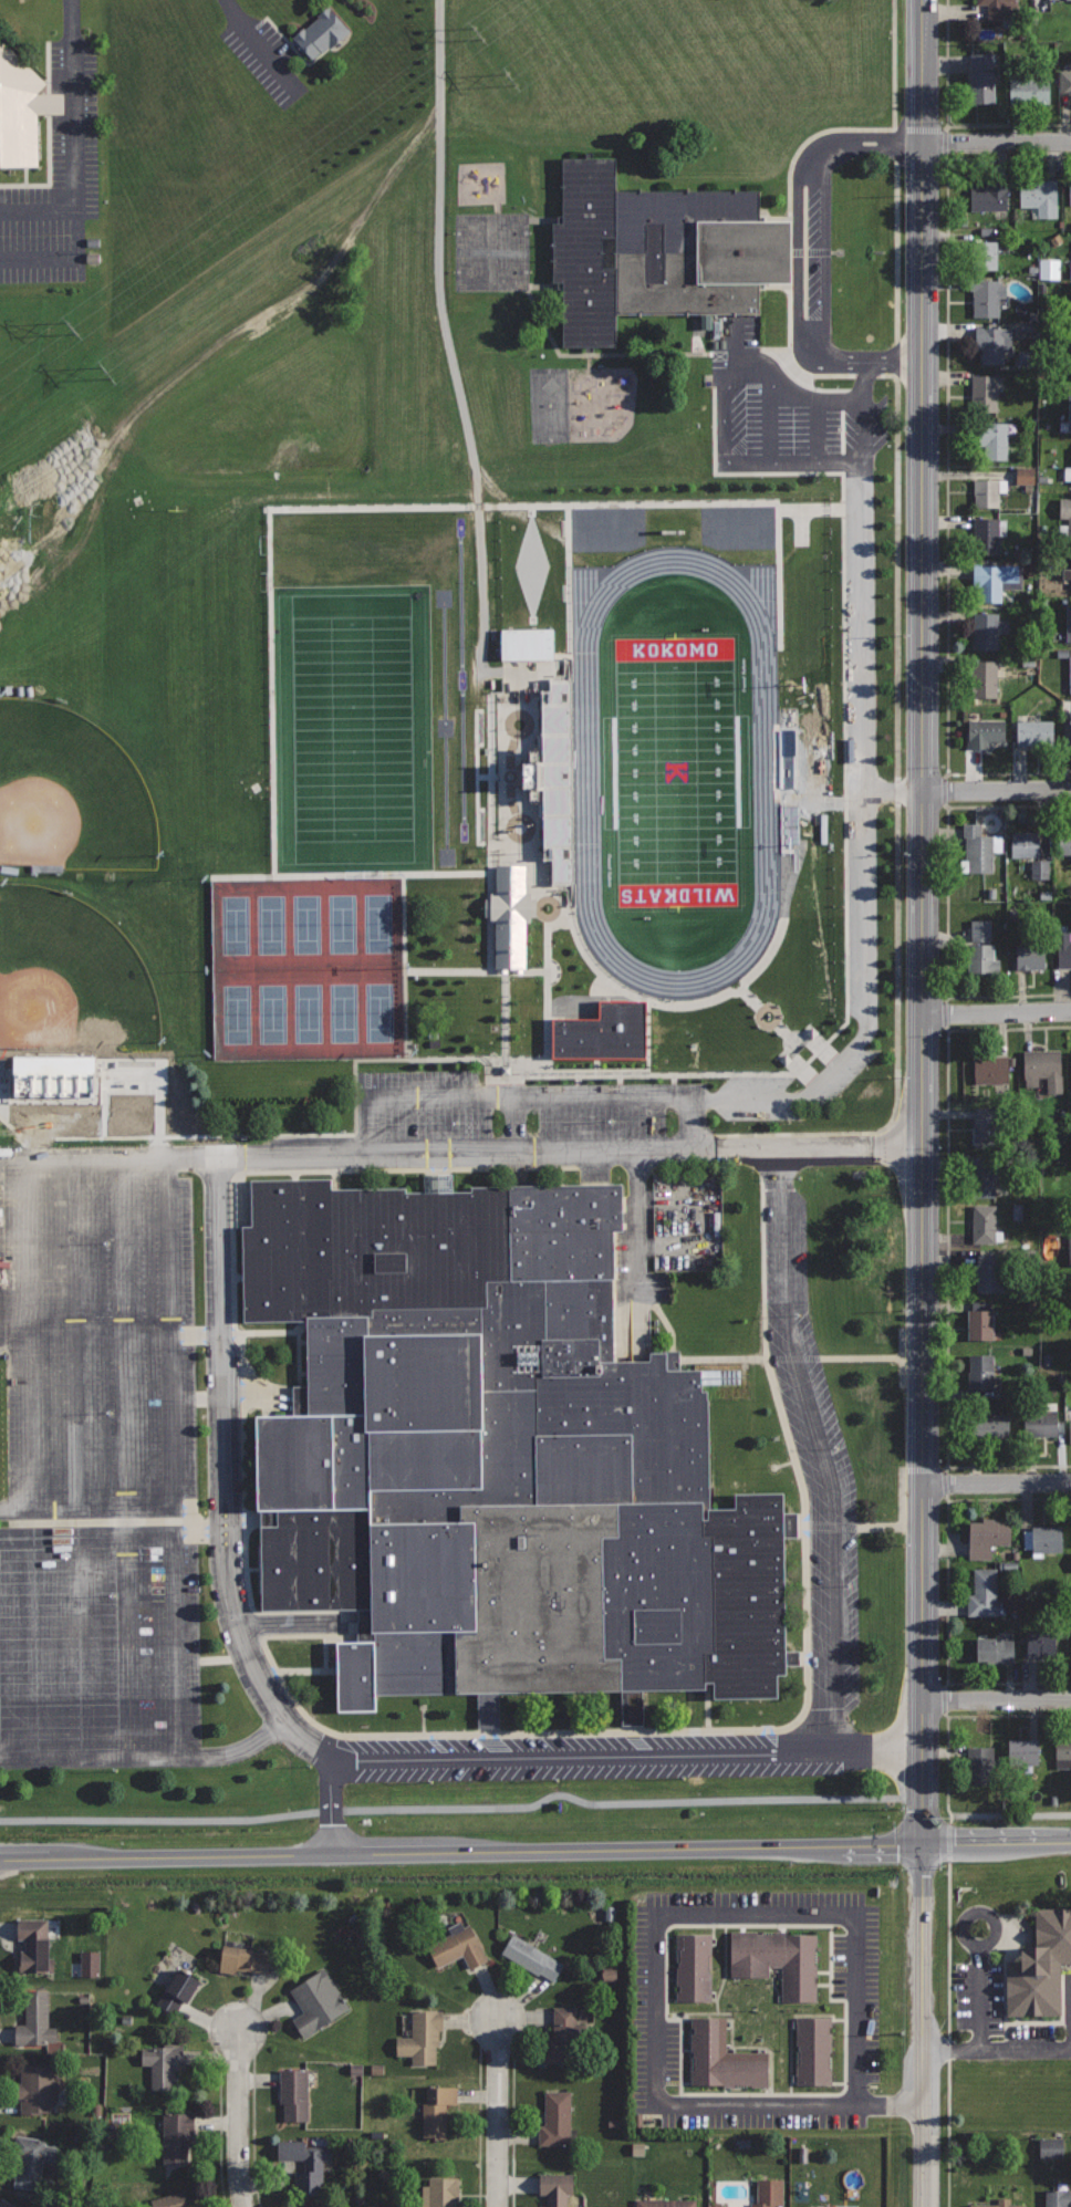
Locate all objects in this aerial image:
building: (1044, 0)
building: (1001, 9)
building: (321, 31)
power tower: (478, 33)
road: (259, 50)
parking lot: (262, 53)
road: (893, 65)
building: (981, 77)
power tower: (511, 80)
building: (1064, 81)
building: (1028, 89)
road: (74, 106)
building: (22, 110)
road: (947, 123)
road: (997, 143)
road: (894, 145)
parking lot: (58, 174)
building: (1070, 190)
building: (990, 196)
building: (1039, 196)
road: (39, 212)
road: (789, 237)
building: (653, 251)
road: (894, 251)
building: (981, 254)
road: (812, 256)
road: (62, 259)
building: (1048, 269)
building: (1070, 271)
building: (987, 296)
building: (1069, 312)
building: (701, 321)
power tower: (71, 329)
road: (235, 331)
building: (994, 342)
road: (553, 344)
parking lot: (804, 345)
road: (449, 347)
road: (589, 357)
road: (895, 358)
building: (1070, 362)
power tower: (106, 374)
road: (865, 375)
building: (985, 393)
road: (725, 410)
road: (864, 413)
building: (1065, 419)
building: (996, 439)
road: (947, 467)
building: (1070, 467)
building: (1022, 476)
building: (989, 495)
road: (413, 506)
road: (809, 509)
building: (1067, 509)
building: (988, 532)
road: (895, 568)
road: (39, 571)
road: (924, 572)
building: (1065, 575)
building: (996, 580)
building: (1069, 622)
park: (198, 624)
building: (989, 629)
building: (524, 643)
road: (526, 670)
building: (1070, 670)
building: (986, 677)
park: (352, 728)
building: (986, 731)
building: (1034, 731)
building: (1070, 731)
road: (489, 769)
track: (588, 772)
park: (676, 773)
building: (523, 778)
building: (555, 780)
road: (997, 789)
road: (895, 790)
parking lot: (876, 791)
road: (895, 791)
park: (70, 795)
road: (843, 821)
building: (1067, 841)
building: (1025, 844)
building: (978, 847)
road: (867, 850)
road: (489, 861)
building: (1038, 870)
road: (946, 902)
building: (507, 915)
park: (342, 922)
park: (381, 922)
park: (271, 923)
park: (306, 923)
park: (232, 924)
building: (1064, 948)
building: (1031, 956)
building: (981, 958)
road: (526, 972)
park: (70, 978)
road: (698, 1002)
road: (582, 1008)
park: (344, 1011)
park: (383, 1011)
park: (272, 1012)
park: (308, 1012)
park: (235, 1013)
road: (997, 1013)
road: (770, 1018)
building: (599, 1033)
road: (796, 1033)
building: (801, 1044)
road: (821, 1048)
road: (895, 1050)
road: (392, 1059)
building: (1043, 1068)
road: (801, 1069)
building: (991, 1069)
building: (1070, 1070)
road: (627, 1071)
building: (52, 1074)
road: (620, 1082)
road: (673, 1082)
road: (578, 1083)
road: (499, 1092)
parking lot: (524, 1110)
road: (694, 1120)
building: (986, 1126)
road: (18, 1136)
road: (570, 1152)
road: (355, 1153)
road: (107, 1157)
road: (266, 1172)
building: (987, 1174)
building: (434, 1183)
road: (947, 1186)
road: (705, 1221)
building: (984, 1224)
parking lot: (659, 1246)
building: (1069, 1246)
road: (638, 1253)
building: (1067, 1256)
building: (990, 1272)
building: (980, 1324)
road: (177, 1332)
road: (34, 1333)
road: (82, 1333)
road: (125, 1333)
parking lot: (98, 1334)
road: (199, 1335)
road: (91, 1336)
road: (2, 1349)
road: (803, 1357)
building: (980, 1371)
road: (199, 1398)
building: (1041, 1419)
building: (991, 1425)
building: (1070, 1430)
road: (820, 1448)
building: (495, 1457)
road: (1009, 1466)
flagpole: (773, 1468)
road: (947, 1468)
road: (997, 1482)
road: (242, 1495)
road: (89, 1509)
parking lot: (831, 1513)
road: (894, 1528)
building: (1069, 1534)
building: (988, 1535)
building: (1047, 1539)
road: (947, 1591)
building: (984, 1595)
road: (288, 1625)
road: (180, 1633)
road: (131, 1634)
parking lot: (98, 1638)
building: (1041, 1644)
building: (998, 1647)
road: (247, 1653)
road: (205, 1659)
road: (319, 1672)
road: (923, 1676)
road: (997, 1698)
road: (960, 1715)
road: (731, 1730)
road: (311, 1746)
building: (1063, 1750)
building: (1023, 1751)
road: (147, 1758)
building: (980, 1764)
road: (333, 1807)
road: (478, 1809)
road: (1011, 1812)
road: (535, 1852)
building: (34, 1941)
road: (974, 1944)
road: (655, 1945)
building: (458, 1947)
building: (531, 1957)
building: (243, 1959)
building: (776, 1961)
building: (1041, 1966)
building: (694, 1967)
building: (179, 1989)
building: (316, 2002)
building: (37, 2020)
road: (948, 2034)
building: (565, 2036)
building: (422, 2037)
road: (998, 2049)
building: (813, 2050)
building: (722, 2057)
building: (164, 2064)
building: (38, 2090)
building: (293, 2093)
building: (436, 2110)
road: (499, 2112)
road: (240, 2117)
building: (557, 2118)
road: (512, 2124)
road: (479, 2126)
road: (219, 2131)
road: (253, 2132)
building: (177, 2134)
building: (1049, 2148)
building: (32, 2162)
building: (306, 2165)
building: (555, 2189)
building: (439, 2193)
building: (769, 2193)
building: (1058, 2197)
building: (170, 2200)
building: (665, 2203)
building: (998, 2203)
building: (8, 2205)

